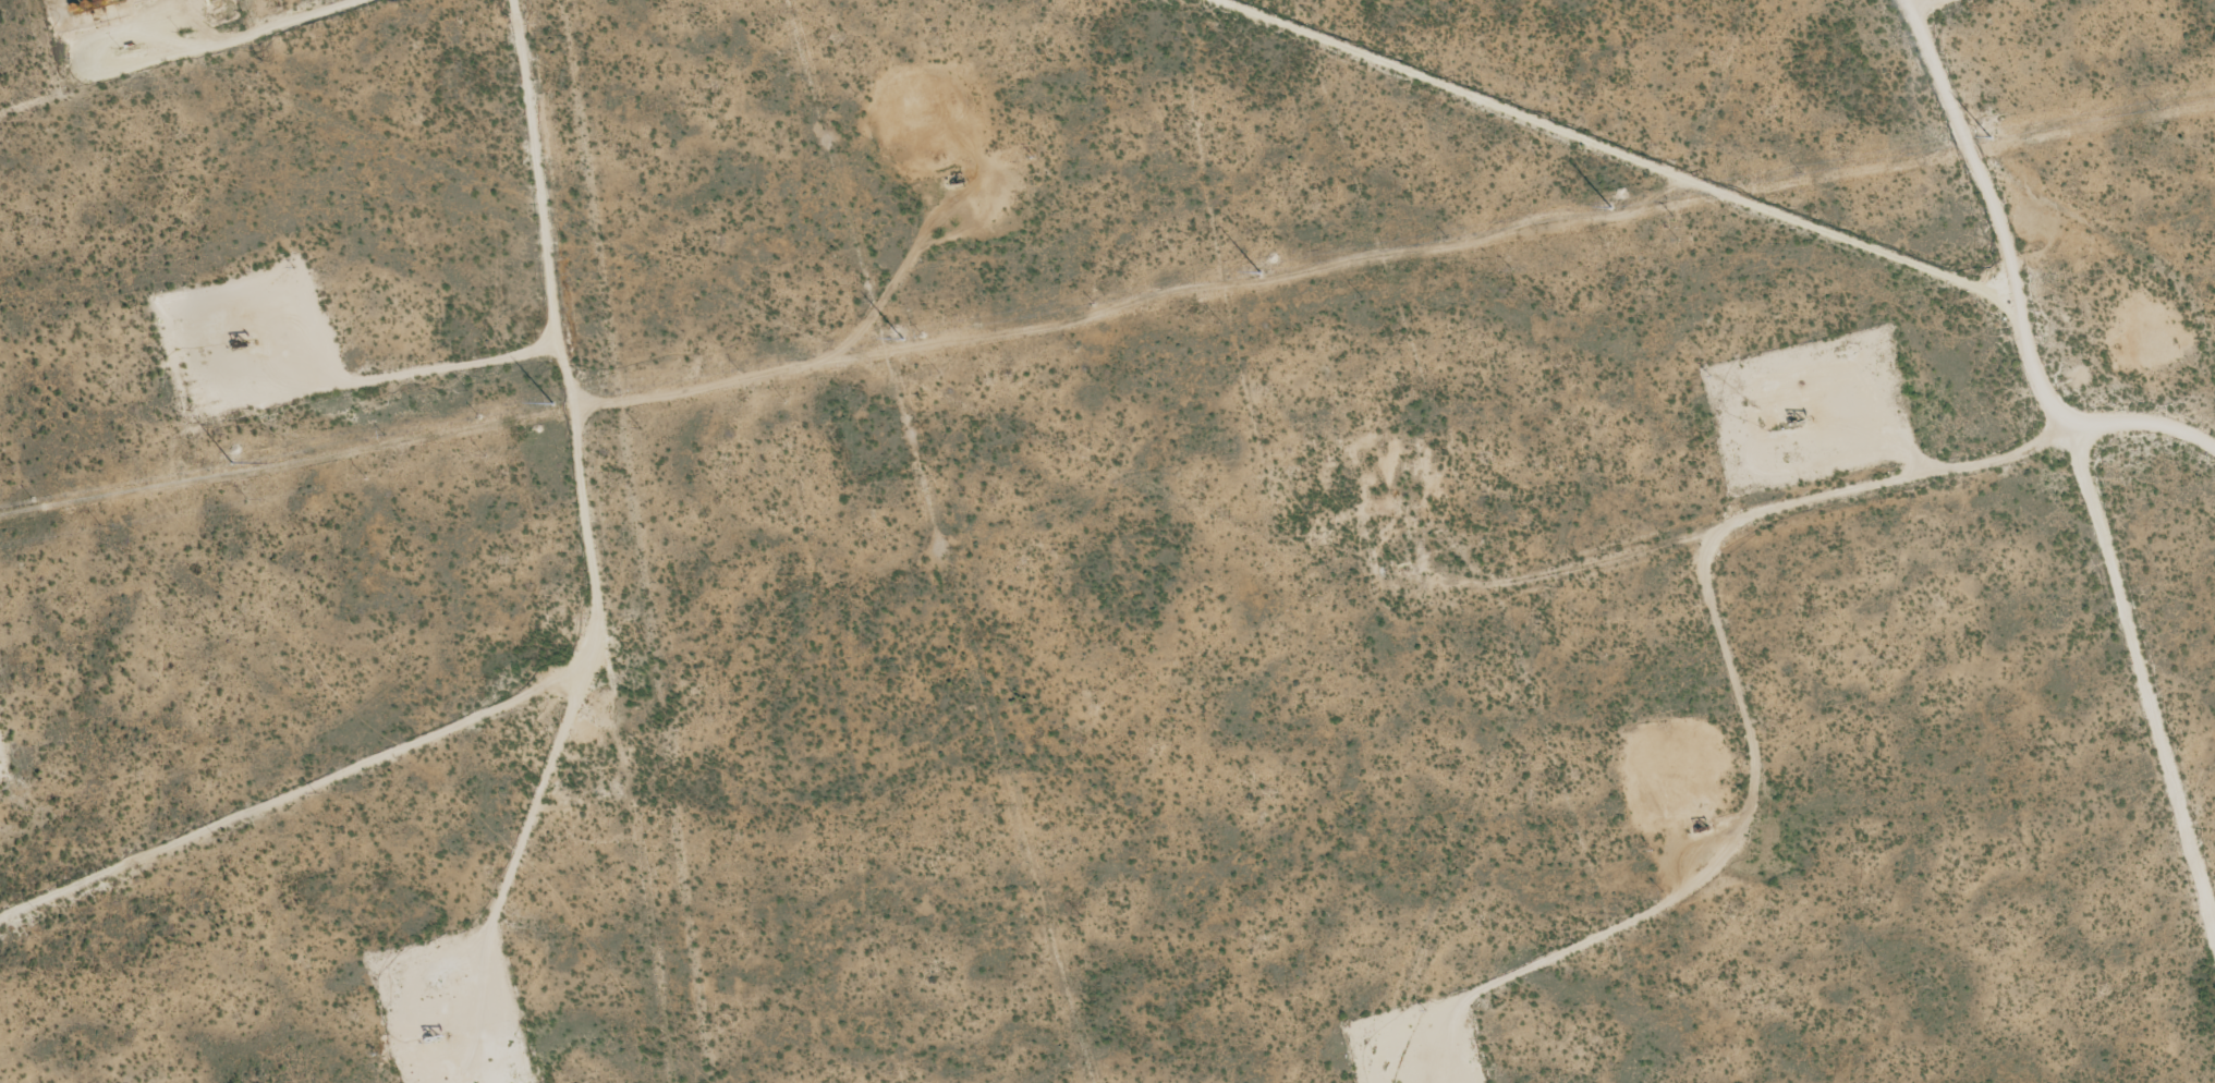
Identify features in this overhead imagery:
power tower: (1989, 133)
road: (1624, 151)
power tower: (1610, 205)
power tower: (1259, 270)
road: (2020, 307)
power tower: (898, 332)
power tower: (553, 403)
power tower: (230, 464)
road: (599, 643)
road: (2146, 717)
road: (531, 863)

